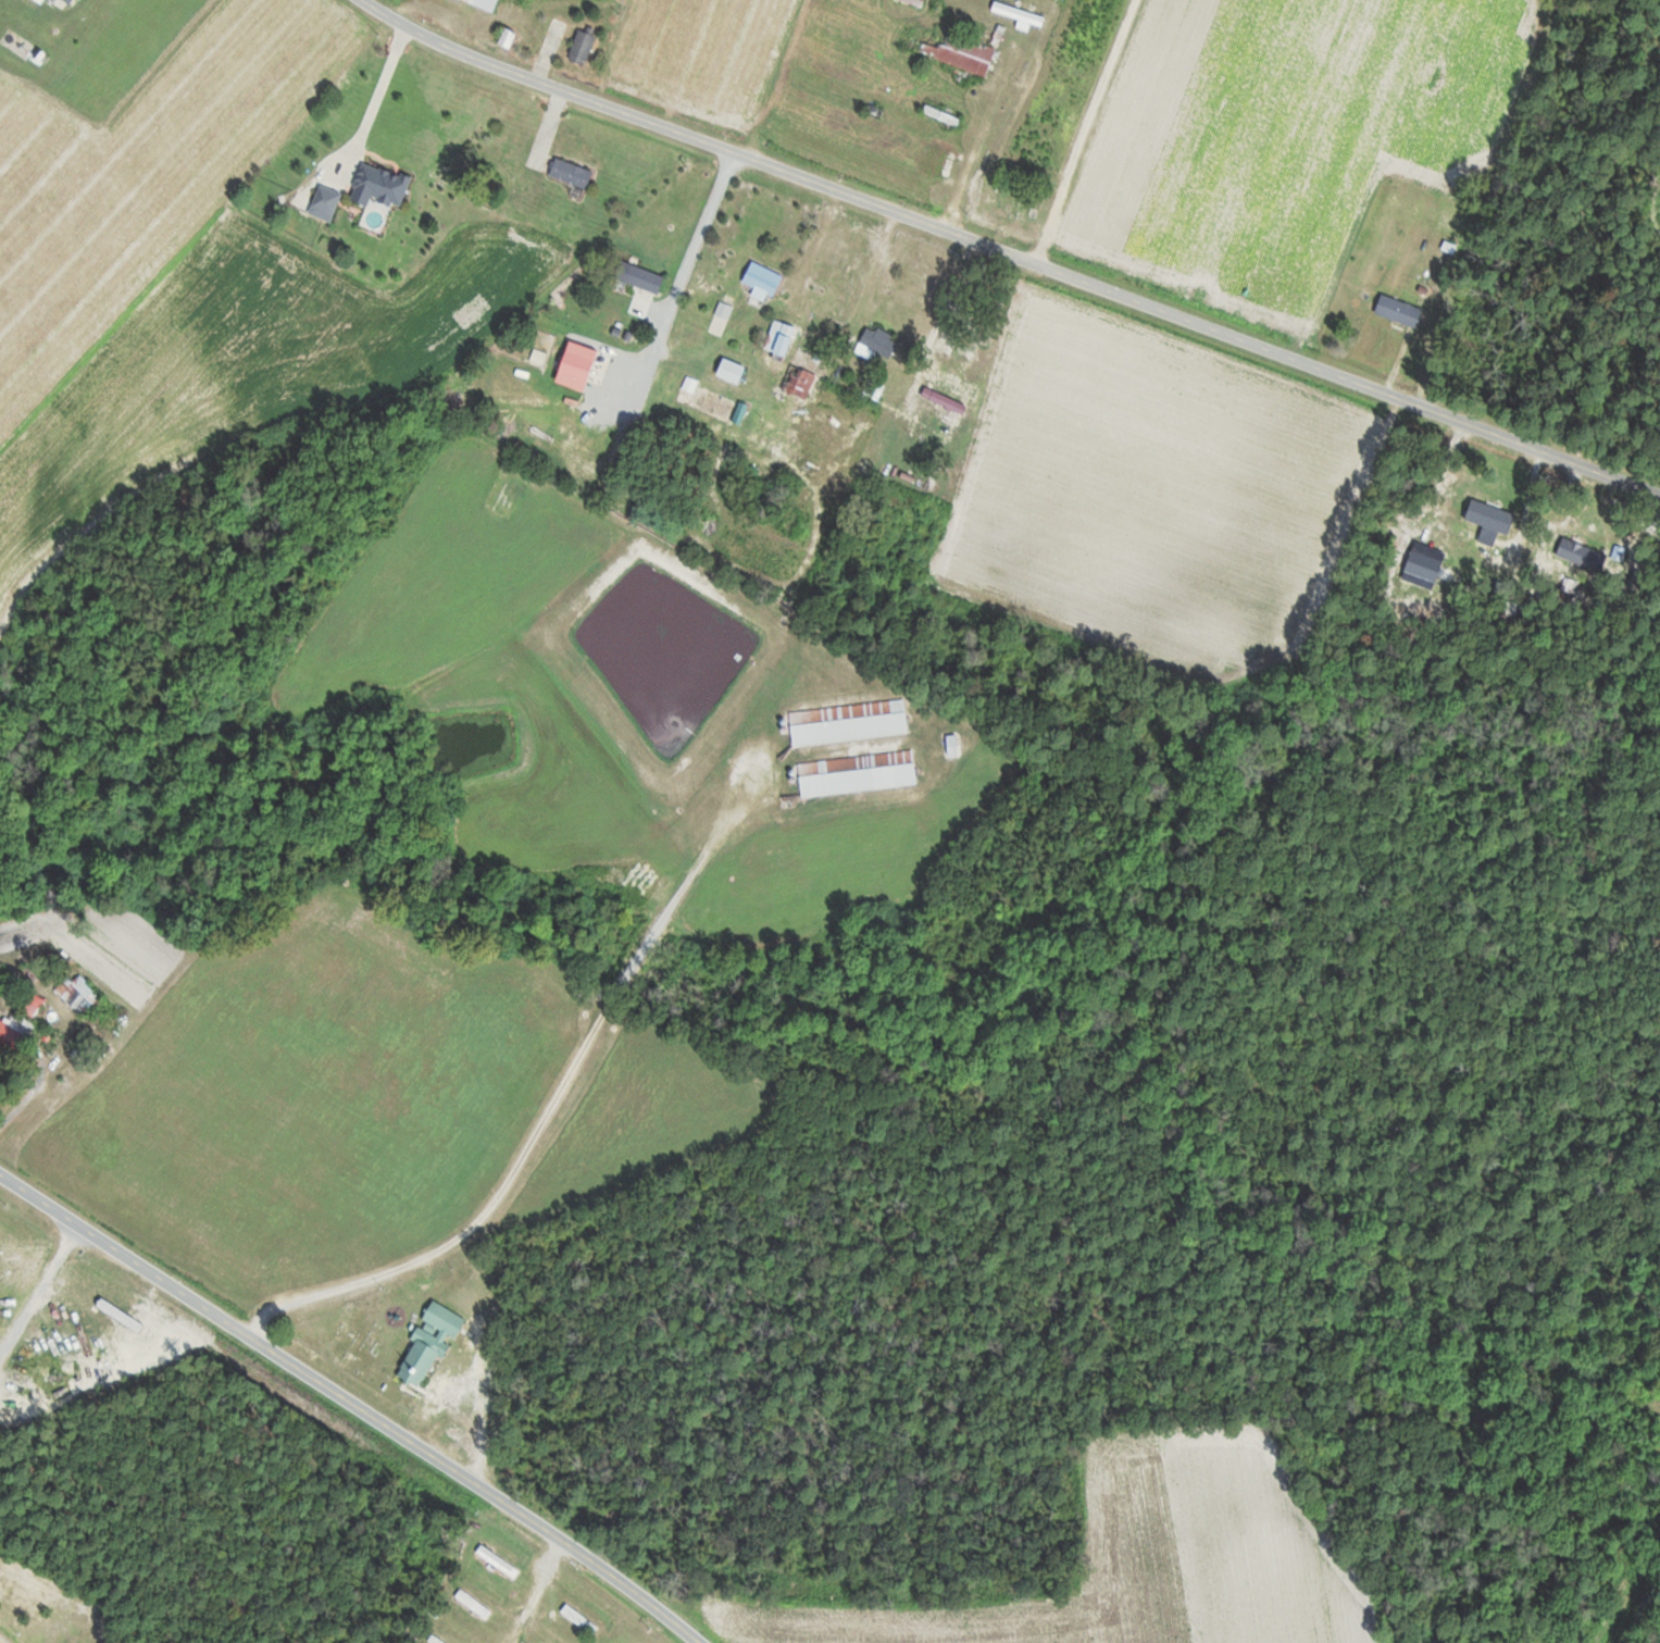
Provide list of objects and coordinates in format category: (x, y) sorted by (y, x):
building: (485, 3)
building: (1020, 13)
building: (559, 27)
building: (584, 46)
building: (956, 50)
building: (878, 111)
building: (944, 115)
building: (949, 162)
building: (572, 172)
building: (380, 185)
road: (1543, 214)
road: (1012, 250)
road: (687, 276)
building: (641, 277)
building: (763, 281)
building: (1400, 310)
building: (782, 337)
building: (877, 343)
building: (578, 365)
building: (733, 371)
building: (799, 381)
road: (1443, 466)
road: (1528, 506)
building: (1491, 509)
building: (1581, 552)
building: (850, 722)
building: (859, 773)
building: (29, 975)
building: (79, 993)
building: (14, 1034)
building: (430, 1344)
road: (355, 1402)
building: (498, 1561)
road: (537, 1588)
building: (474, 1604)
building: (579, 1619)
building: (436, 1640)

